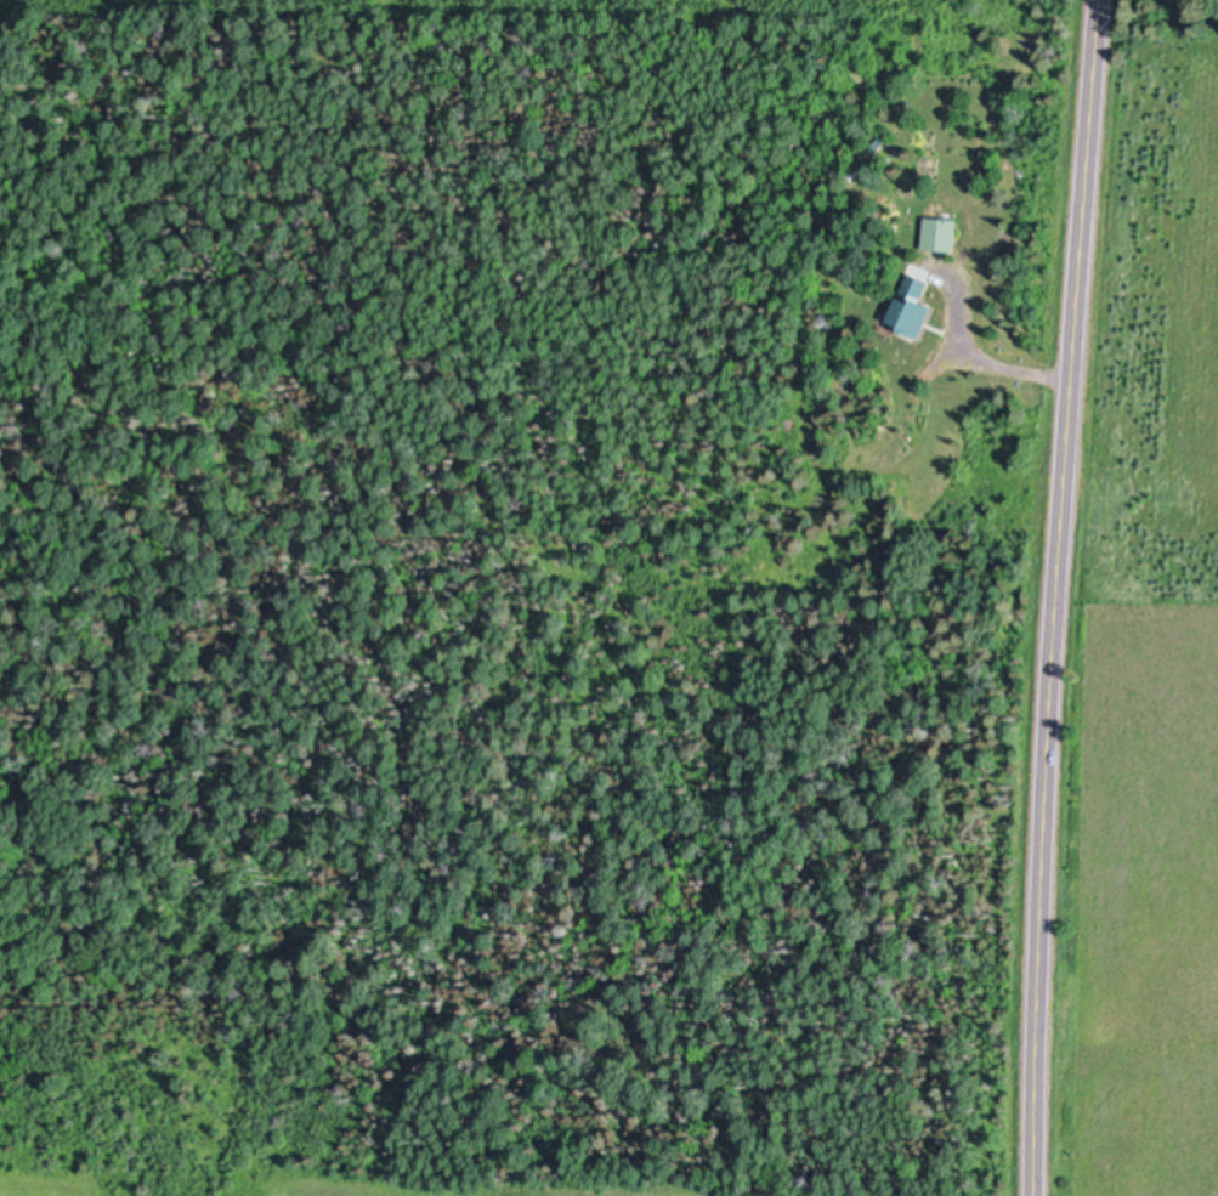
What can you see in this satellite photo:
building: (939, 232)
building: (910, 304)
road: (984, 361)
road: (1055, 597)

